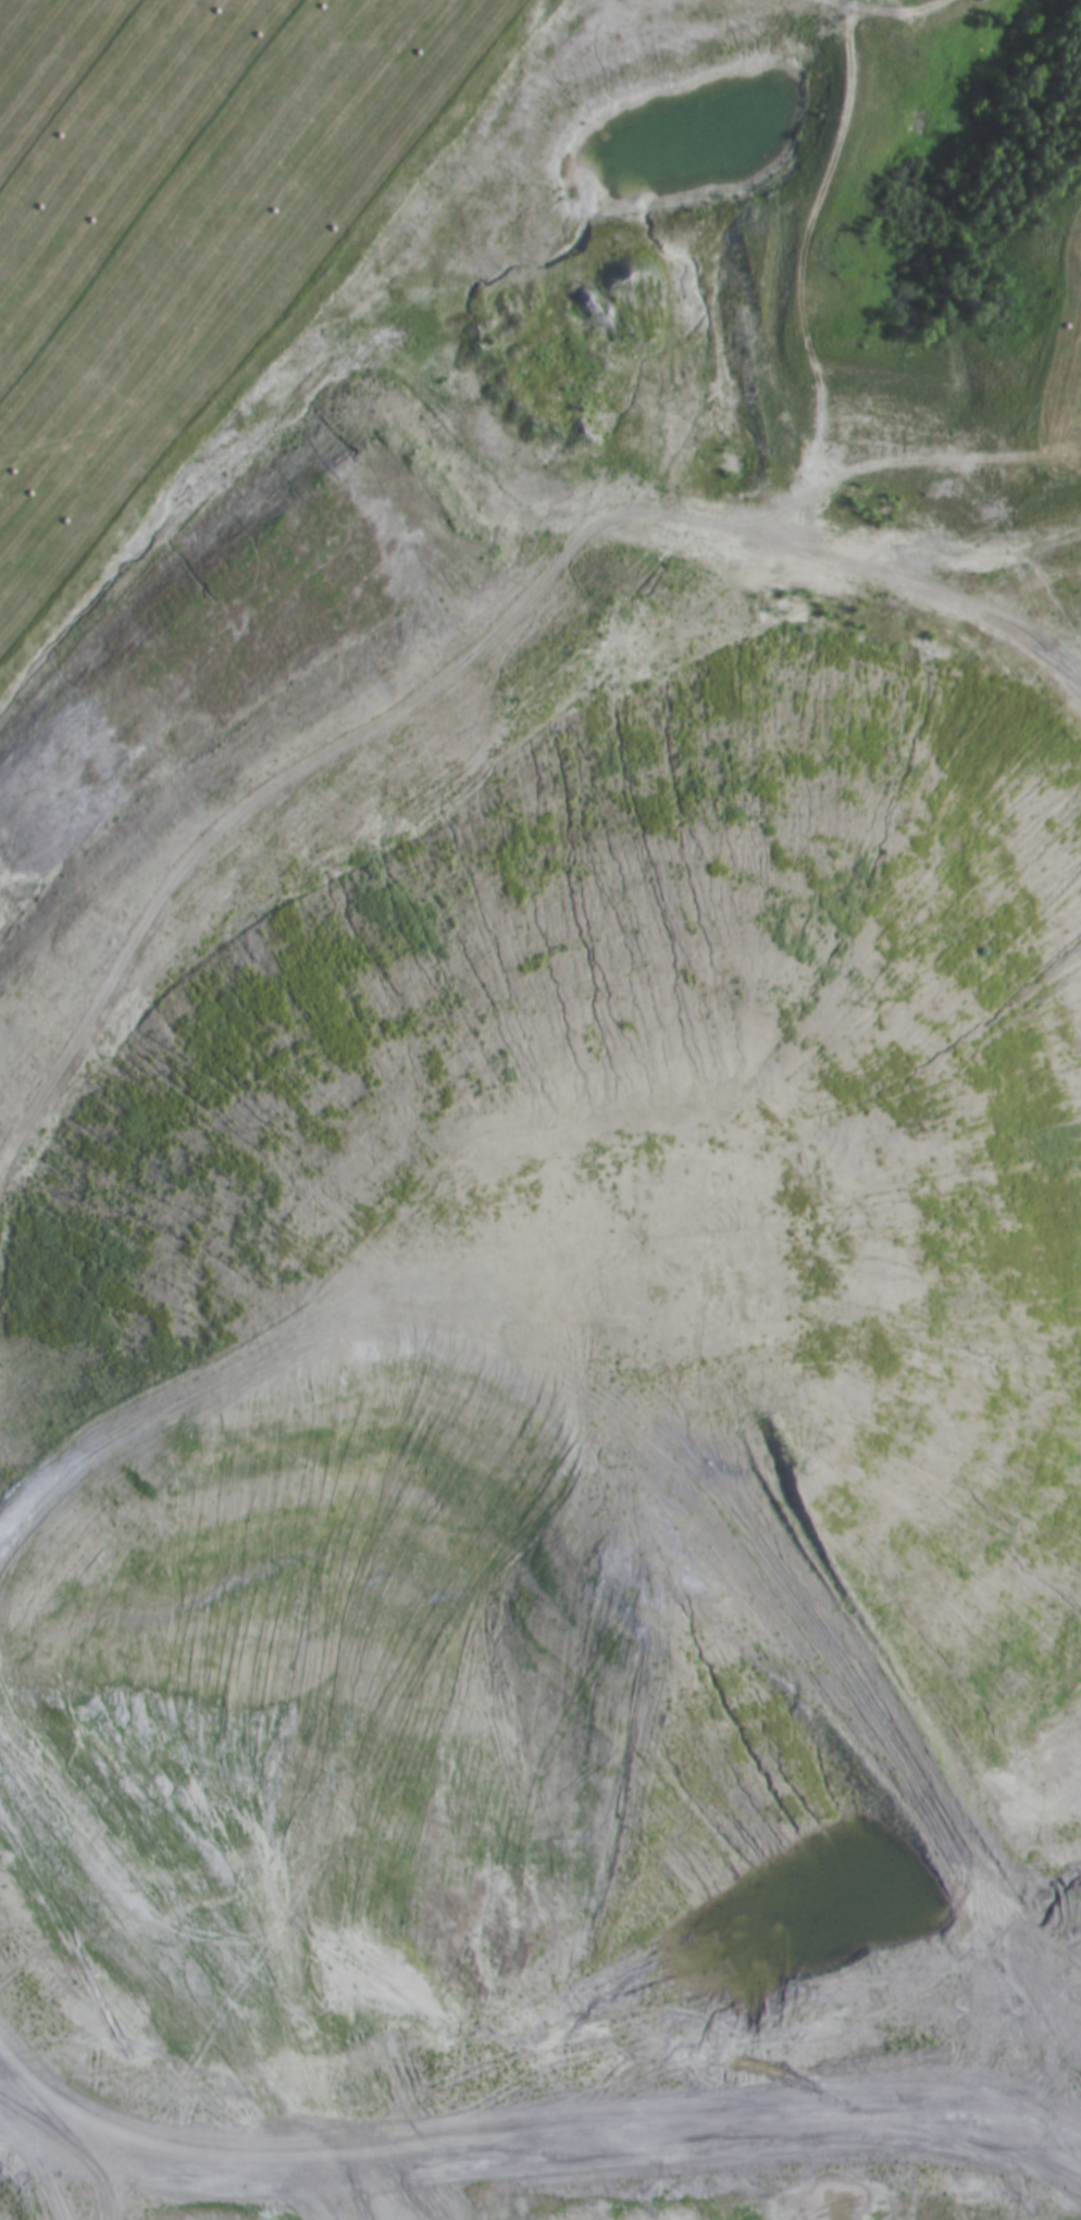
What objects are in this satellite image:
quarry: (532, 1146)

